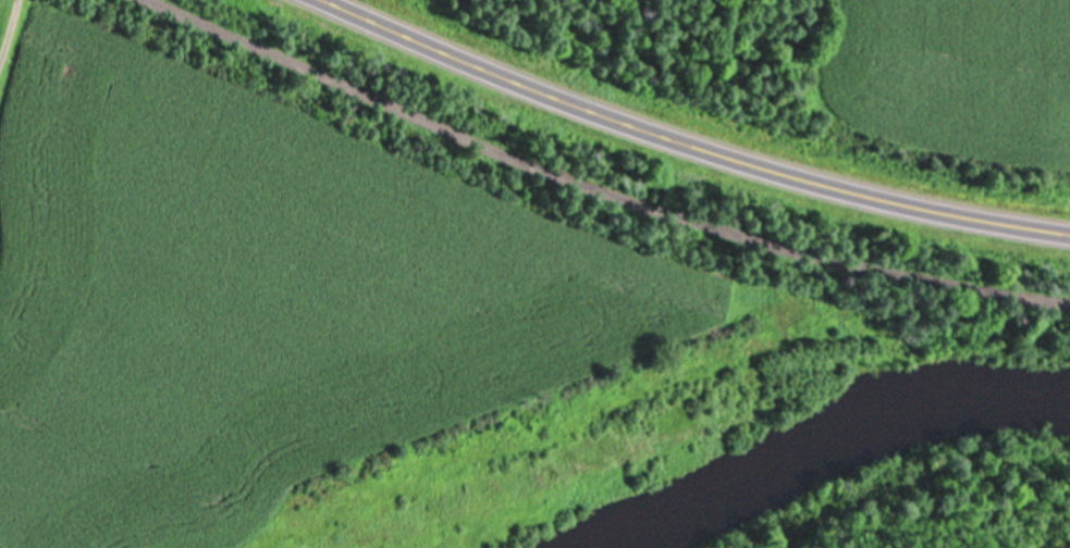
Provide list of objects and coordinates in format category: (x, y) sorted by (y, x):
road: (691, 144)
road: (605, 190)
river: (822, 443)

